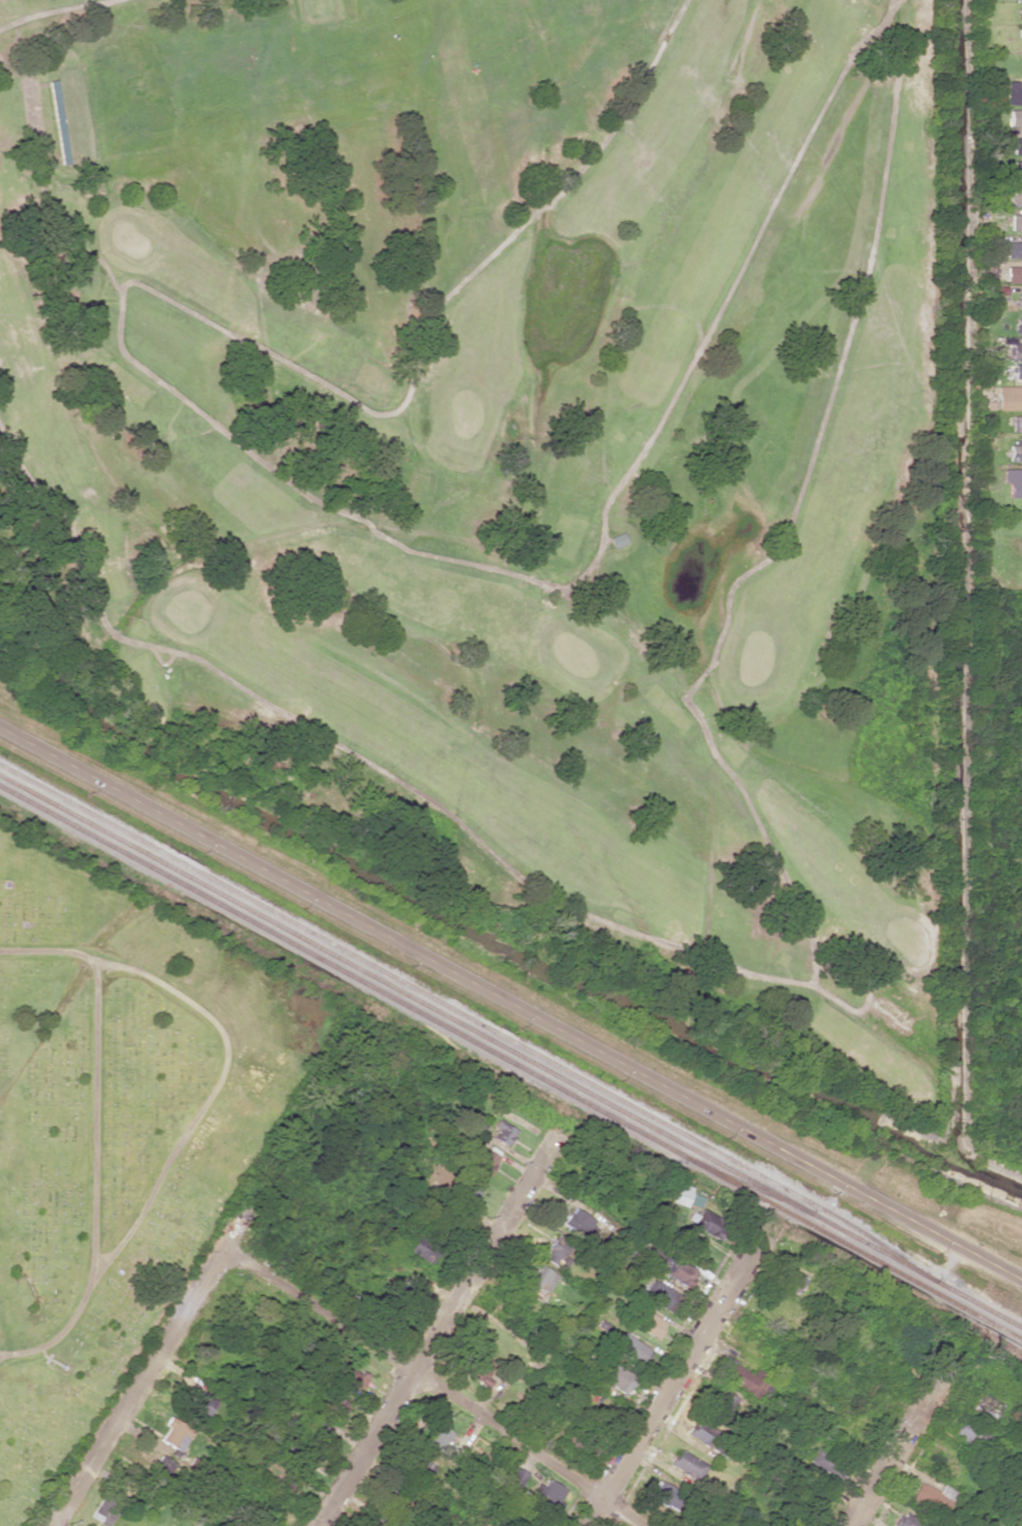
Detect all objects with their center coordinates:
building: (1020, 11)
building: (1012, 93)
building: (1014, 117)
building: (1016, 145)
building: (1016, 168)
building: (1019, 197)
building: (1015, 221)
building: (1013, 249)
building: (1013, 273)
building: (1018, 299)
building: (1018, 325)
building: (1015, 350)
building: (1016, 370)
building: (1008, 397)
building: (1014, 452)
park: (515, 457)
building: (1012, 481)
road: (511, 1003)
railway: (510, 1051)
railway: (511, 1062)
road: (212, 1094)
park: (118, 1132)
building: (502, 1132)
road: (95, 1138)
building: (481, 1160)
building: (467, 1192)
building: (686, 1196)
building: (706, 1222)
building: (580, 1224)
building: (423, 1250)
building: (557, 1251)
building: (671, 1266)
building: (792, 1280)
building: (538, 1281)
road: (211, 1282)
building: (409, 1284)
building: (658, 1294)
building: (644, 1320)
road: (432, 1336)
building: (630, 1348)
building: (478, 1368)
road: (675, 1375)
building: (616, 1377)
building: (746, 1379)
building: (352, 1381)
road: (438, 1389)
building: (721, 1401)
building: (199, 1404)
building: (984, 1404)
building: (332, 1408)
building: (698, 1431)
building: (319, 1432)
building: (966, 1432)
building: (174, 1434)
building: (437, 1436)
road: (898, 1442)
building: (296, 1456)
building: (827, 1463)
building: (687, 1464)
building: (162, 1465)
building: (419, 1467)
building: (516, 1475)
building: (662, 1492)
building: (546, 1494)
building: (931, 1497)
building: (104, 1509)
building: (388, 1512)
building: (908, 1520)
building: (252, 1524)

